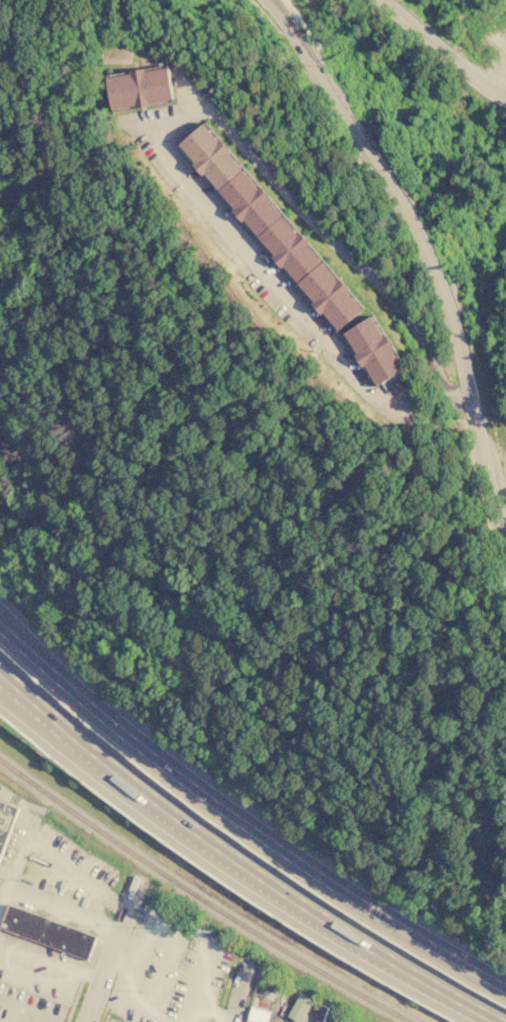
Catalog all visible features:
road: (441, 50)
building: (140, 86)
road: (208, 103)
building: (213, 157)
building: (253, 204)
building: (293, 251)
road: (427, 259)
building: (333, 298)
building: (375, 352)
road: (504, 523)
road: (60, 680)
road: (11, 689)
road: (11, 692)
road: (167, 809)
building: (6, 824)
road: (23, 844)
road: (307, 872)
road: (71, 882)
road: (2, 898)
railway: (202, 900)
road: (61, 912)
parking lot: (48, 913)
building: (48, 932)
road: (188, 940)
road: (5, 955)
road: (104, 962)
road: (410, 966)
parking lot: (173, 973)
road: (238, 994)
road: (147, 996)
road: (247, 996)
building: (300, 1008)
road: (30, 1009)
road: (188, 1011)
road: (7, 1012)
building: (258, 1015)
building: (325, 1015)
road: (105, 1019)
parking lot: (115, 1019)
building: (342, 1020)

